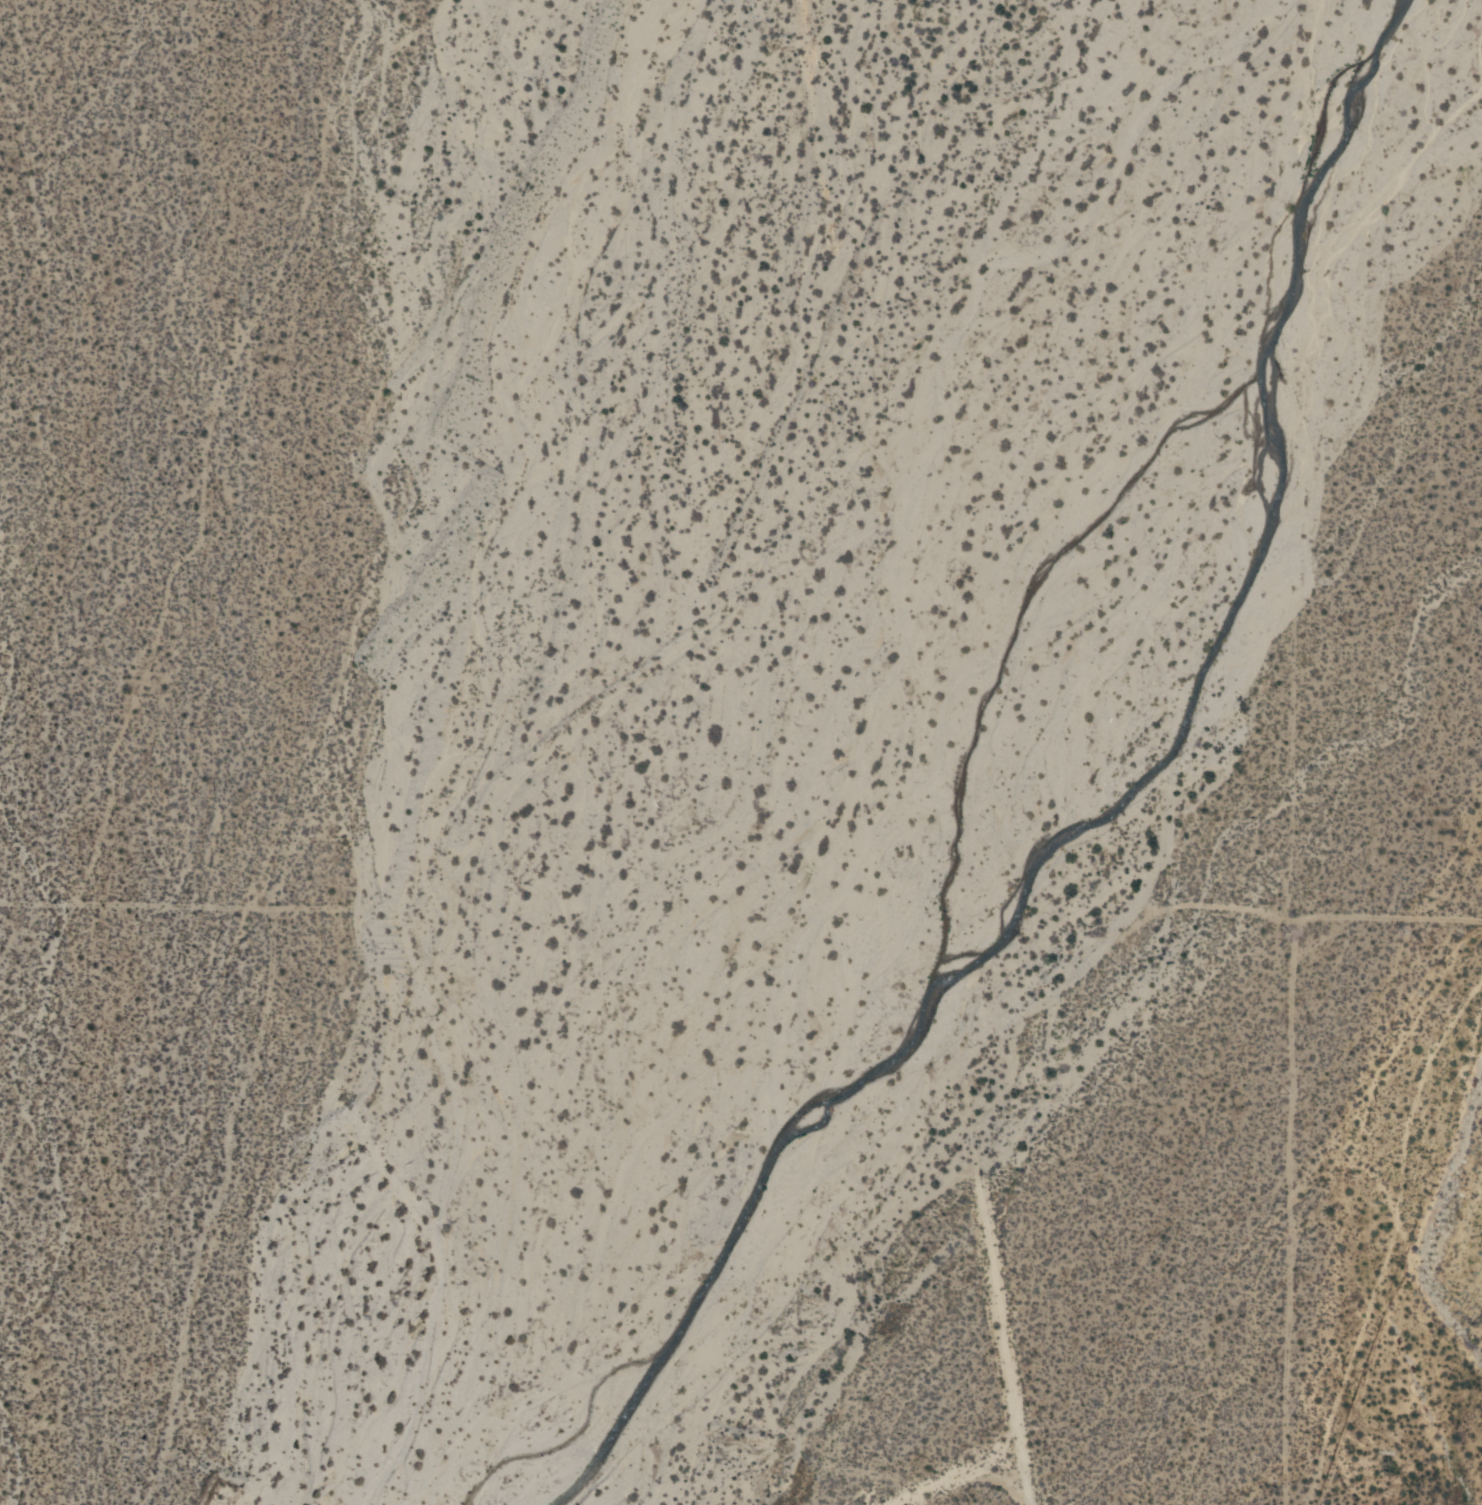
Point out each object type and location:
road: (1013, 1346)

